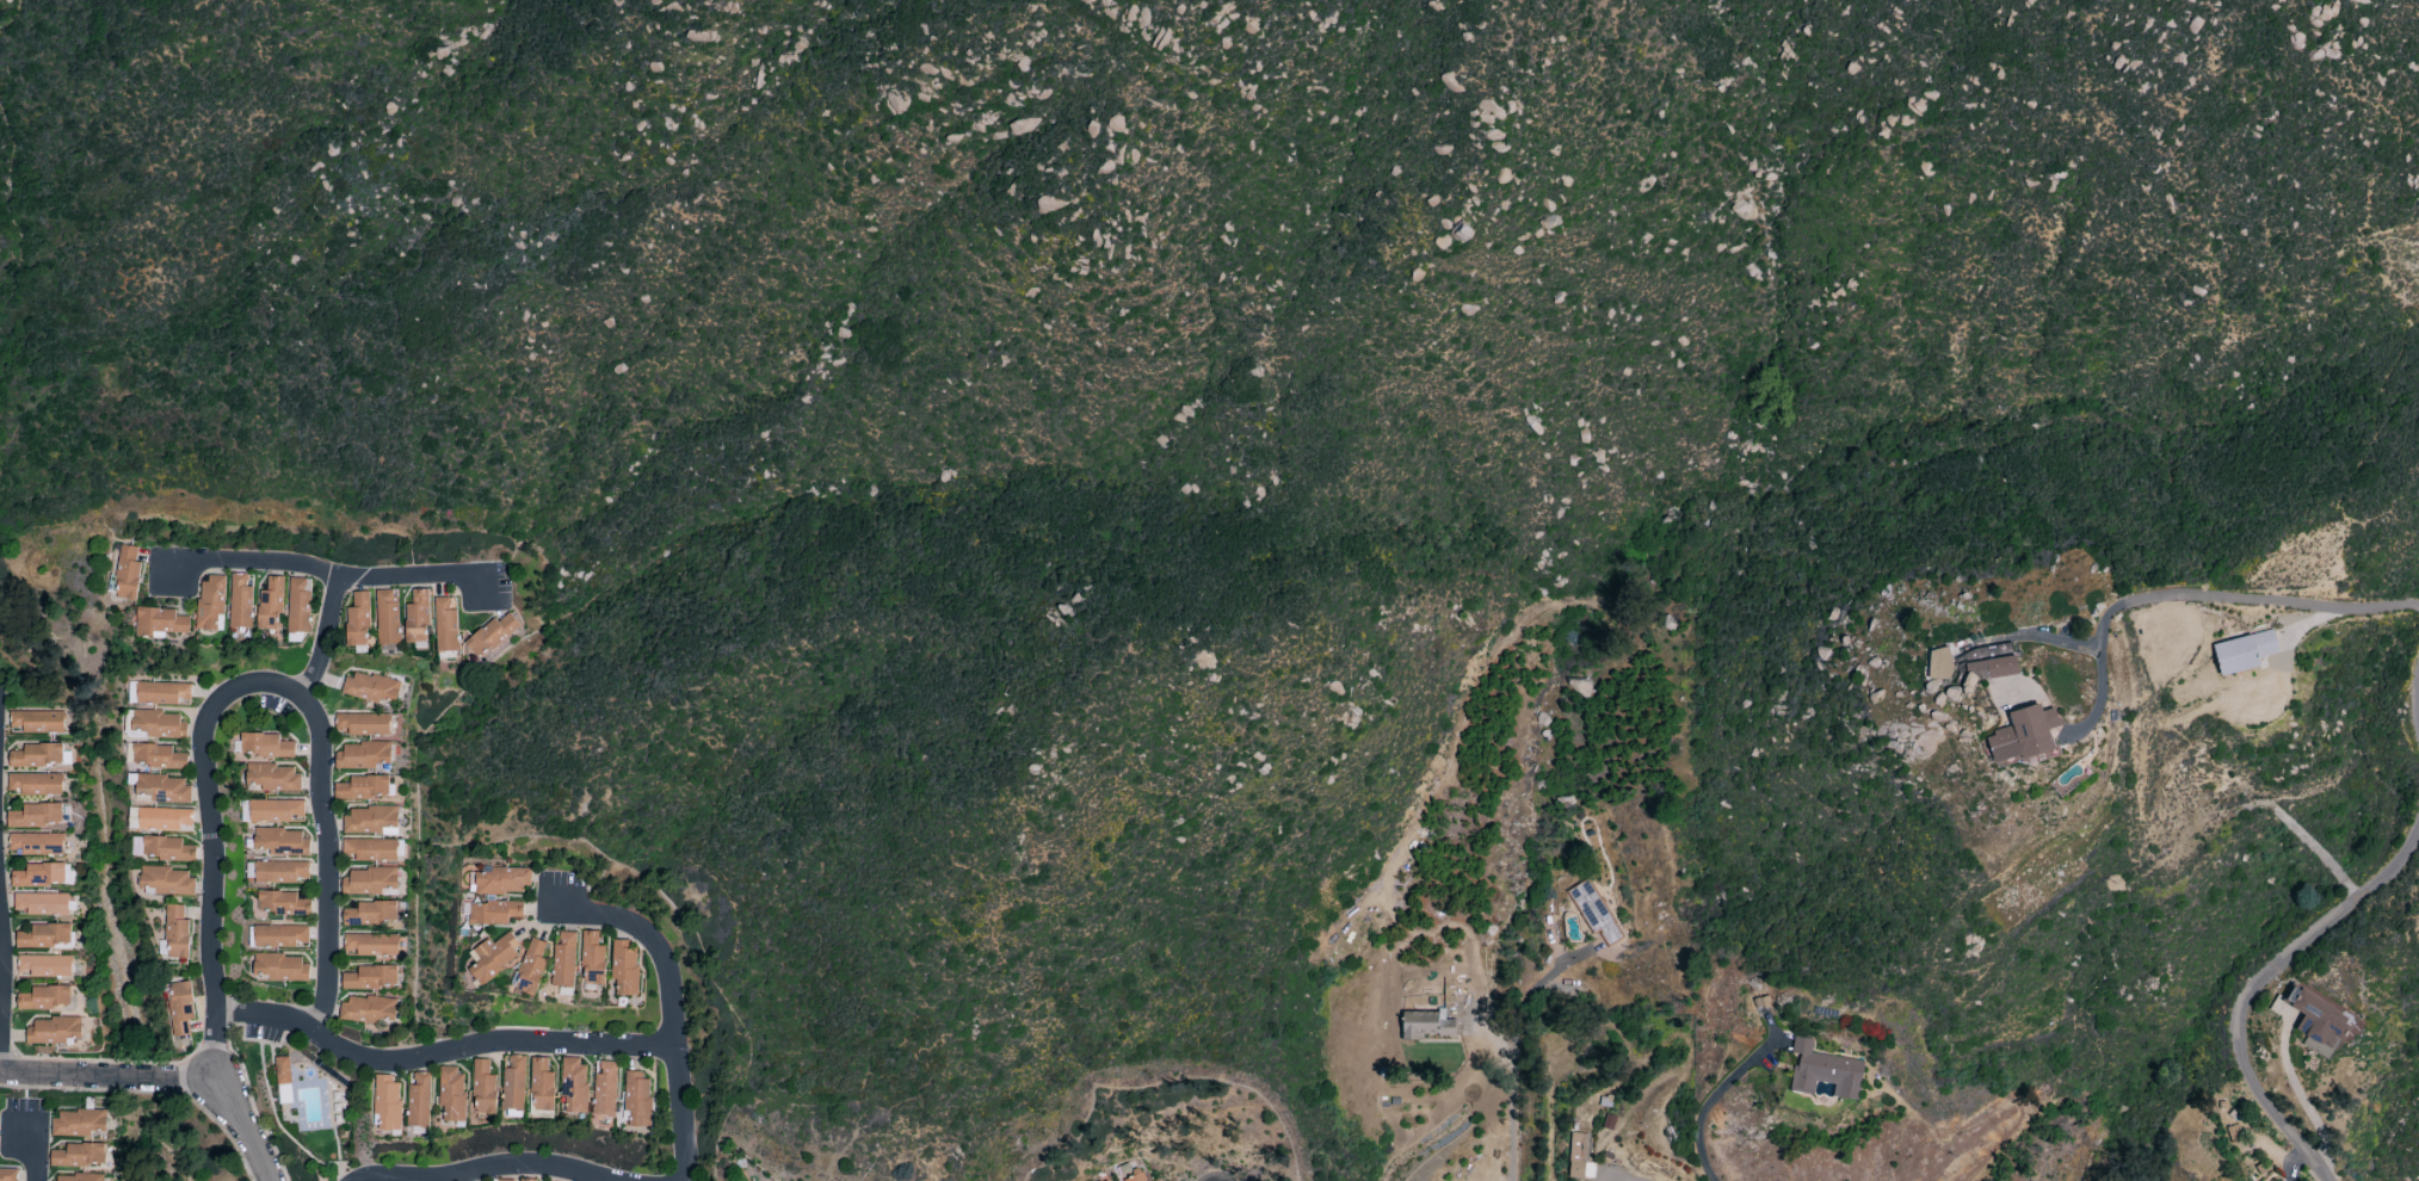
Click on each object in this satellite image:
road: (331, 573)
building: (126, 574)
road: (2198, 595)
building: (210, 601)
building: (240, 601)
building: (270, 604)
building: (298, 605)
building: (387, 617)
building: (416, 618)
building: (357, 620)
building: (160, 623)
building: (445, 624)
building: (490, 635)
road: (328, 638)
building: (2244, 653)
building: (1991, 668)
building: (370, 687)
building: (162, 693)
building: (38, 722)
building: (159, 724)
building: (362, 724)
building: (2024, 735)
building: (264, 746)
building: (36, 755)
building: (362, 755)
building: (158, 758)
building: (272, 778)
building: (35, 784)
building: (162, 789)
building: (363, 789)
building: (274, 811)
building: (36, 816)
building: (160, 820)
building: (369, 821)
building: (279, 842)
building: (36, 843)
road: (212, 846)
building: (160, 848)
building: (369, 849)
road: (329, 862)
building: (276, 872)
building: (42, 876)
building: (166, 882)
building: (370, 882)
building: (502, 882)
building: (279, 903)
building: (42, 904)
building: (1593, 911)
building: (494, 913)
building: (370, 914)
building: (177, 933)
building: (44, 935)
building: (280, 936)
building: (370, 945)
building: (494, 958)
building: (592, 959)
building: (564, 960)
building: (44, 966)
building: (532, 966)
building: (624, 966)
building: (279, 967)
road: (4, 971)
building: (370, 978)
road: (1537, 981)
road: (2259, 985)
building: (44, 998)
building: (180, 1008)
building: (366, 1010)
road: (672, 1010)
building: (2315, 1022)
building: (1425, 1024)
building: (51, 1031)
road: (440, 1056)
building: (1823, 1071)
road: (107, 1076)
building: (283, 1080)
building: (513, 1083)
building: (574, 1083)
building: (542, 1086)
road: (27, 1087)
building: (483, 1088)
building: (605, 1088)
building: (451, 1093)
road: (2300, 1096)
building: (637, 1099)
building: (418, 1100)
building: (387, 1102)
road: (1707, 1105)
road: (1514, 1107)
building: (76, 1124)
road: (249, 1127)
road: (31, 1139)
building: (78, 1156)
building: (1578, 1156)
road: (492, 1169)
building: (7, 1174)
building: (1133, 1177)
building: (74, 1179)
building: (501, 1180)
building: (527, 1180)
building: (1106, 1180)
road: (1716, 1180)

